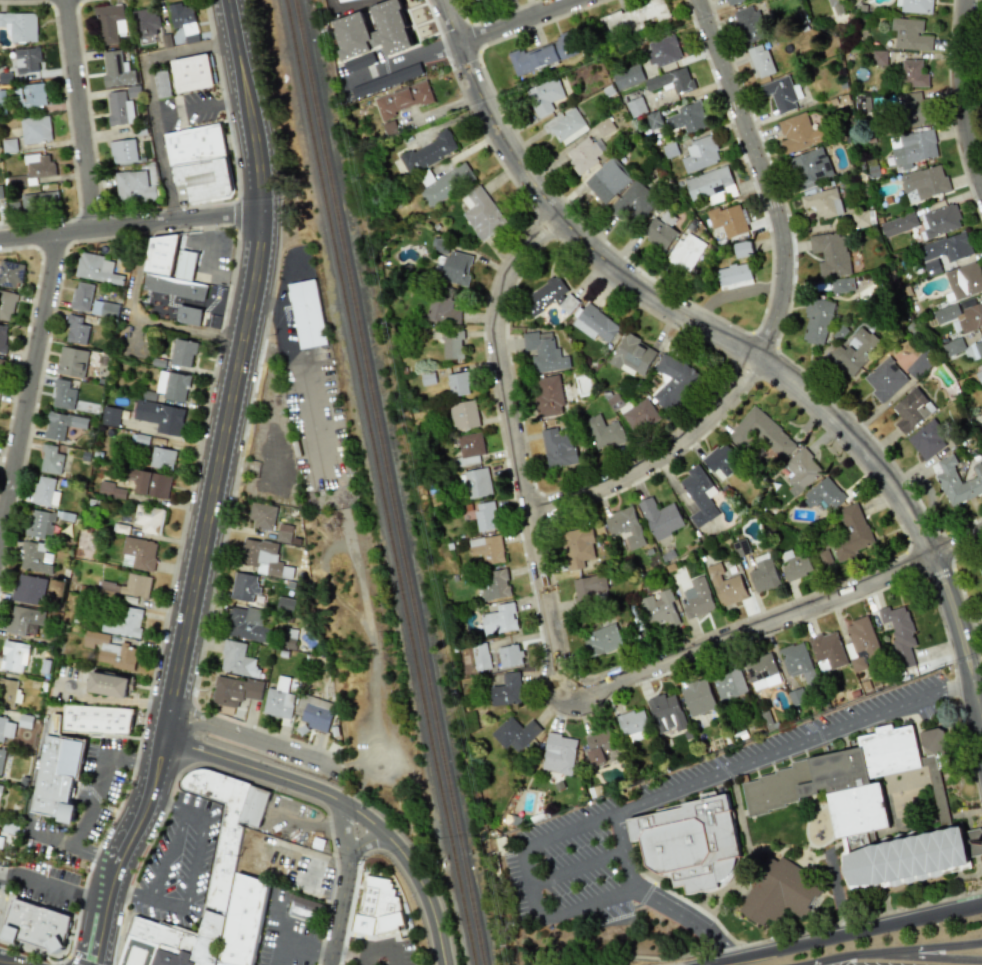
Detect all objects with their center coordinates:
building: (340, 0)
building: (732, 2)
building: (914, 6)
building: (632, 18)
building: (184, 21)
road: (454, 21)
road: (518, 21)
building: (146, 22)
building: (110, 23)
building: (749, 24)
building: (348, 25)
building: (20, 26)
building: (910, 34)
building: (662, 50)
building: (542, 54)
road: (407, 56)
building: (879, 57)
building: (27, 60)
building: (758, 60)
building: (358, 62)
building: (116, 69)
building: (192, 73)
building: (913, 73)
building: (628, 77)
building: (671, 80)
building: (385, 81)
building: (161, 83)
building: (359, 92)
building: (781, 93)
road: (154, 94)
road: (961, 94)
building: (33, 95)
building: (543, 96)
building: (403, 100)
road: (248, 103)
building: (862, 103)
road: (203, 106)
building: (636, 107)
building: (912, 108)
building: (119, 109)
road: (80, 114)
building: (687, 117)
building: (654, 120)
building: (565, 125)
building: (604, 126)
building: (389, 127)
building: (35, 129)
building: (798, 132)
building: (913, 148)
building: (123, 151)
building: (427, 151)
building: (584, 154)
building: (700, 154)
building: (199, 163)
building: (810, 166)
building: (33, 170)
building: (607, 180)
building: (925, 181)
building: (447, 184)
building: (711, 185)
building: (133, 187)
building: (633, 201)
building: (40, 202)
building: (822, 202)
building: (482, 213)
building: (862, 218)
building: (728, 220)
building: (939, 220)
road: (132, 224)
building: (899, 224)
building: (658, 233)
building: (946, 247)
building: (742, 249)
building: (685, 252)
building: (830, 253)
building: (160, 254)
road: (212, 263)
building: (184, 265)
building: (456, 267)
building: (932, 267)
building: (97, 269)
building: (10, 273)
building: (734, 276)
building: (964, 280)
building: (842, 285)
building: (182, 289)
building: (82, 296)
building: (548, 296)
building: (443, 304)
building: (7, 305)
building: (105, 309)
building: (306, 313)
road: (775, 314)
building: (188, 315)
building: (970, 317)
building: (817, 321)
road: (138, 322)
building: (595, 323)
building: (76, 330)
building: (3, 338)
building: (452, 346)
building: (977, 348)
road: (288, 351)
building: (854, 351)
building: (182, 352)
building: (543, 352)
building: (632, 355)
road: (760, 359)
building: (72, 361)
building: (920, 364)
building: (0, 365)
road: (29, 378)
building: (885, 379)
building: (674, 381)
building: (458, 383)
building: (171, 385)
building: (63, 395)
building: (548, 395)
building: (910, 409)
building: (463, 414)
building: (640, 415)
building: (110, 416)
building: (159, 416)
building: (61, 424)
building: (603, 432)
building: (760, 433)
building: (139, 439)
building: (926, 439)
building: (470, 444)
road: (515, 448)
building: (557, 448)
building: (161, 458)
building: (51, 460)
building: (719, 460)
building: (800, 470)
road: (219, 474)
railway: (383, 482)
railway: (393, 482)
railway: (412, 482)
building: (476, 482)
building: (954, 482)
building: (150, 483)
building: (110, 490)
building: (45, 492)
building: (823, 493)
building: (699, 494)
building: (262, 515)
building: (484, 517)
building: (659, 517)
building: (148, 518)
building: (40, 523)
building: (625, 527)
building: (851, 532)
building: (284, 533)
building: (578, 547)
building: (488, 548)
building: (138, 553)
building: (261, 557)
building: (825, 557)
building: (35, 558)
building: (795, 565)
building: (763, 575)
building: (494, 584)
building: (130, 586)
building: (243, 586)
building: (725, 586)
building: (588, 588)
building: (28, 589)
building: (697, 598)
building: (285, 604)
building: (659, 609)
building: (500, 620)
building: (24, 621)
road: (776, 621)
building: (123, 622)
building: (246, 624)
building: (899, 632)
building: (603, 639)
building: (861, 644)
building: (827, 649)
building: (109, 650)
building: (13, 656)
building: (480, 656)
building: (508, 656)
building: (236, 660)
building: (797, 662)
building: (761, 671)
building: (728, 683)
building: (109, 685)
building: (234, 690)
building: (507, 690)
building: (8, 692)
building: (697, 696)
road: (90, 698)
building: (277, 699)
building: (665, 712)
building: (316, 713)
road: (980, 713)
building: (97, 720)
building: (632, 724)
building: (6, 728)
building: (514, 733)
road: (377, 746)
building: (598, 746)
building: (559, 754)
building: (1, 759)
building: (934, 773)
building: (57, 778)
road: (98, 778)
building: (851, 780)
road: (698, 785)
building: (0, 787)
road: (341, 808)
road: (51, 840)
building: (1, 842)
road: (363, 843)
building: (691, 843)
road: (125, 850)
road: (165, 853)
road: (95, 855)
building: (909, 857)
parking lot: (177, 861)
road: (577, 871)
building: (221, 872)
road: (190, 876)
road: (531, 885)
road: (342, 886)
road: (53, 887)
building: (778, 891)
building: (302, 908)
building: (378, 908)
road: (855, 919)
building: (245, 921)
building: (35, 925)
road: (847, 935)
parking lot: (288, 941)
road: (295, 943)
parking lot: (381, 951)
road: (345, 952)
road: (376, 952)
road: (901, 952)
road: (395, 957)
road: (339, 958)
road: (662, 958)
road: (919, 958)
road: (359, 960)
road: (7, 962)
road: (11, 964)

